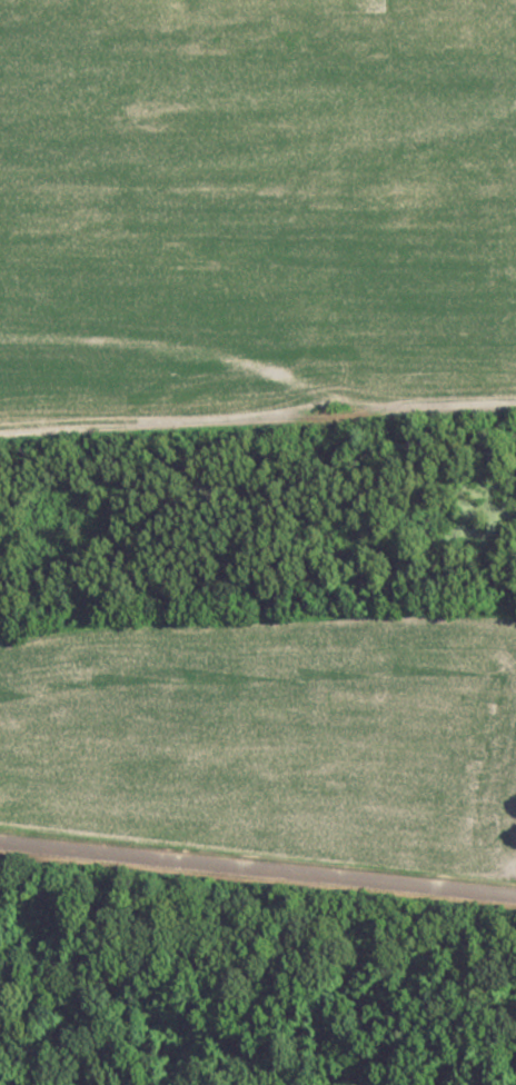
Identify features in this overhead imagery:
road: (258, 870)

